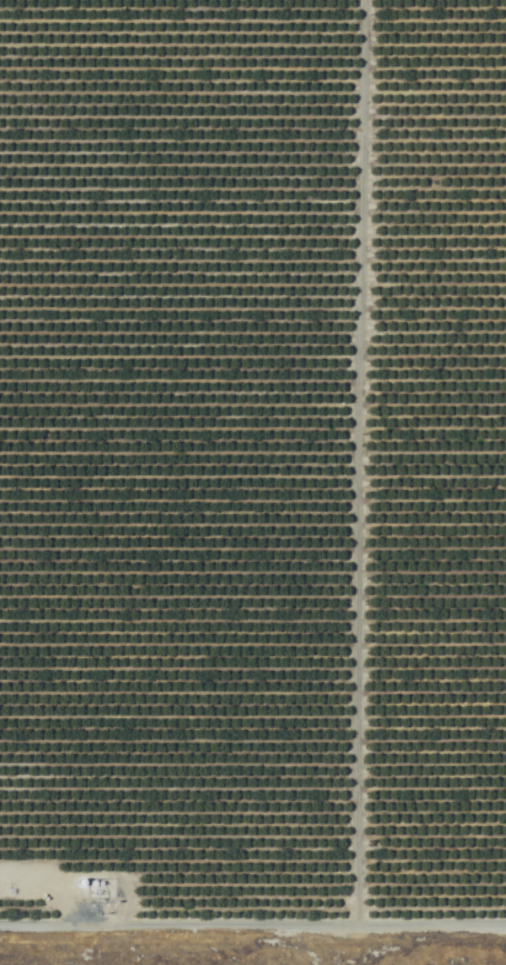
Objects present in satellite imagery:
road: (354, 465)
crop: (253, 469)
road: (252, 930)

